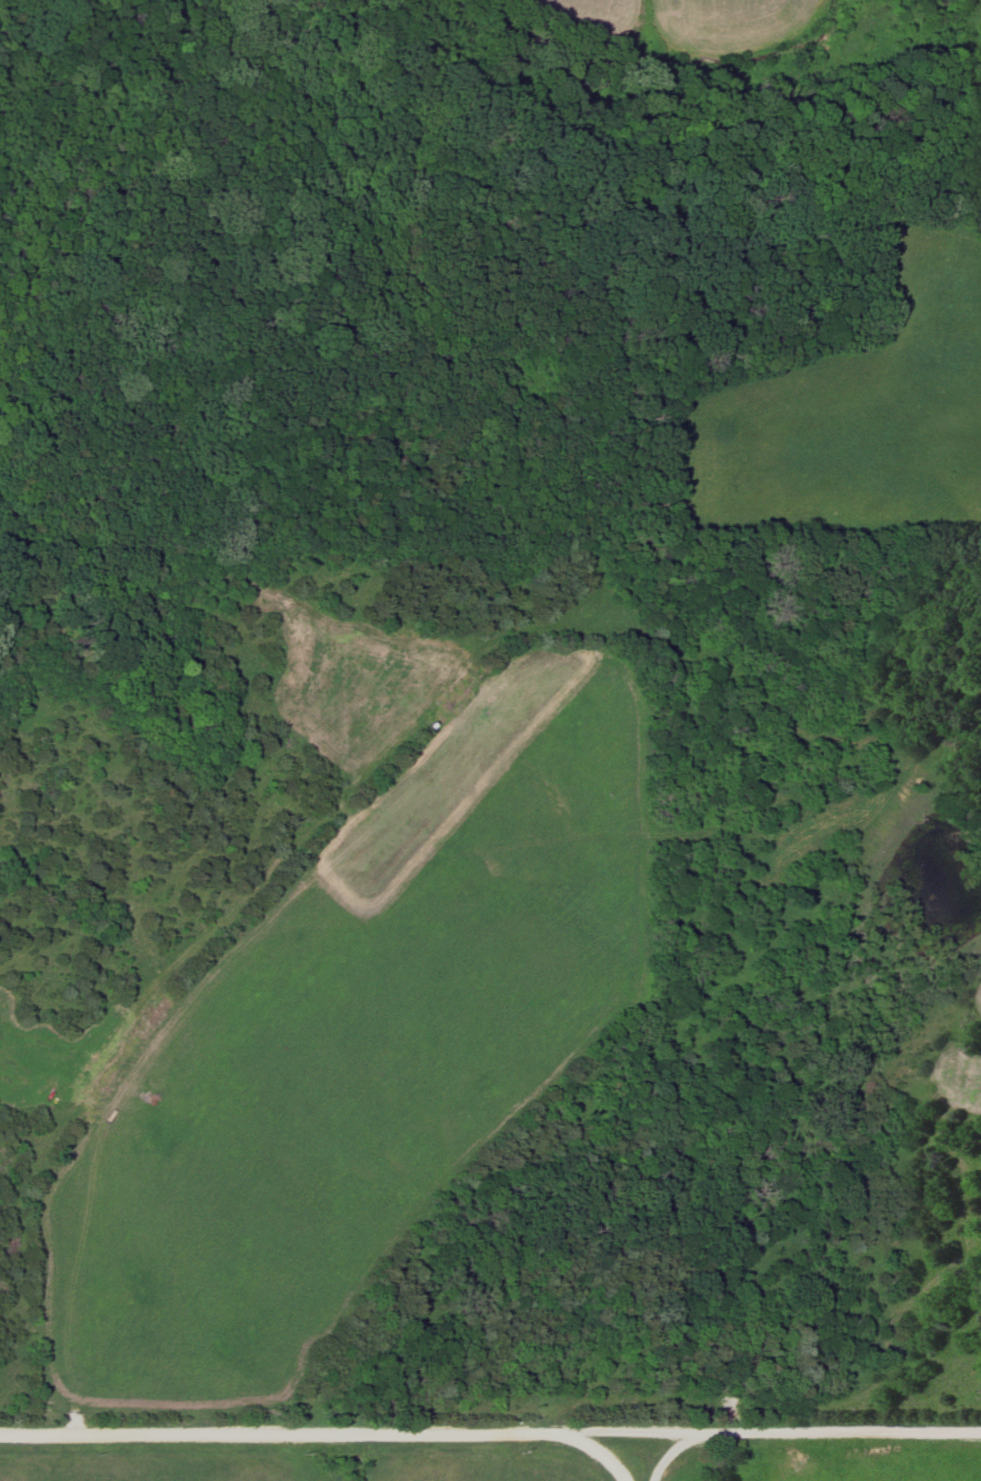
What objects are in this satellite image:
road: (490, 1433)
road: (598, 1449)
road: (673, 1456)

